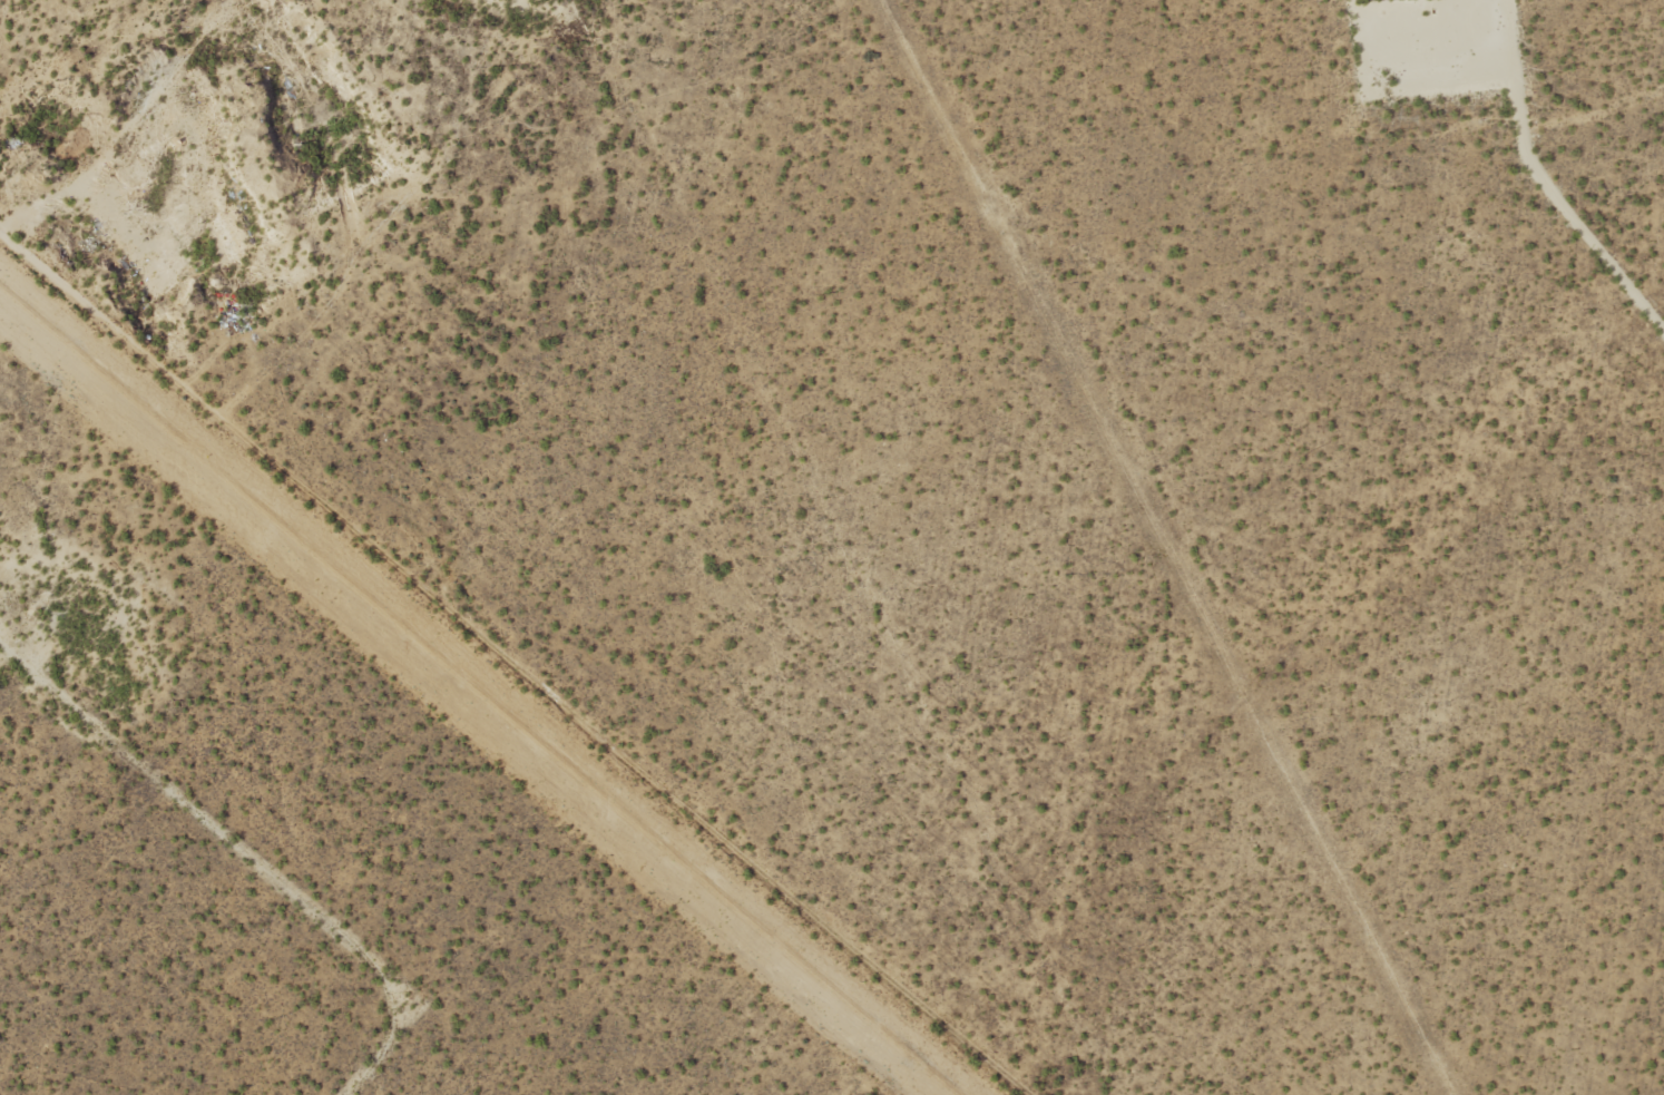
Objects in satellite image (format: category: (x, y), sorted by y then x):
road: (244, 844)
road: (361, 1077)

